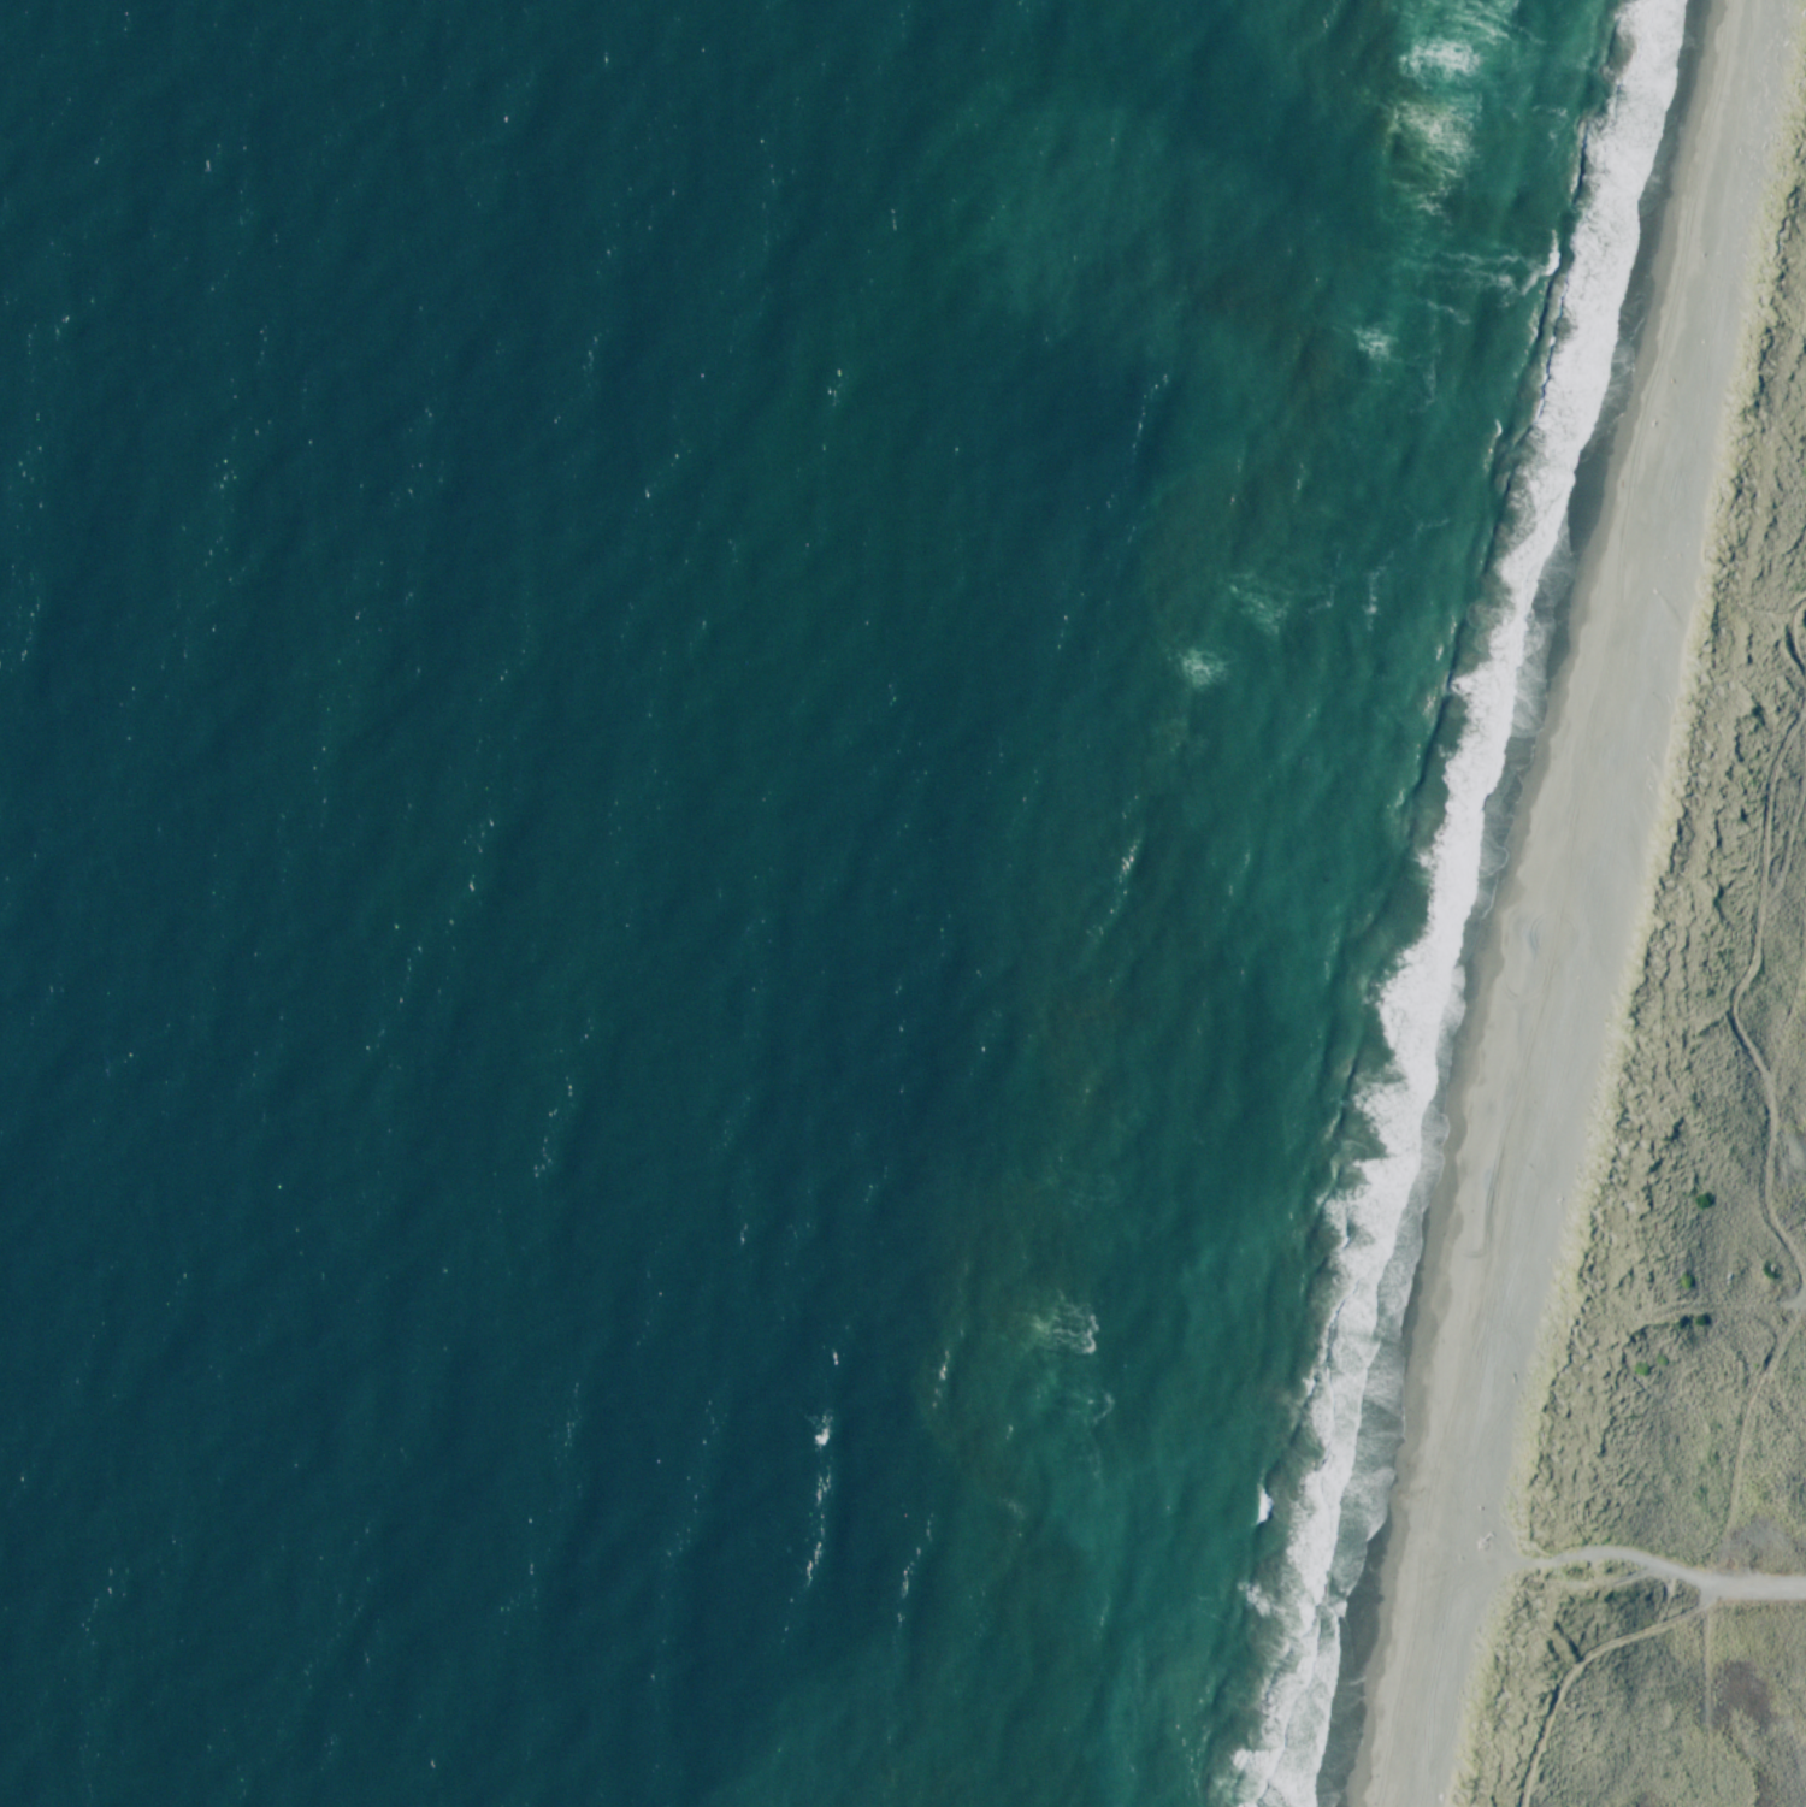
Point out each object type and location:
road: (1700, 1583)
road: (1564, 1667)

